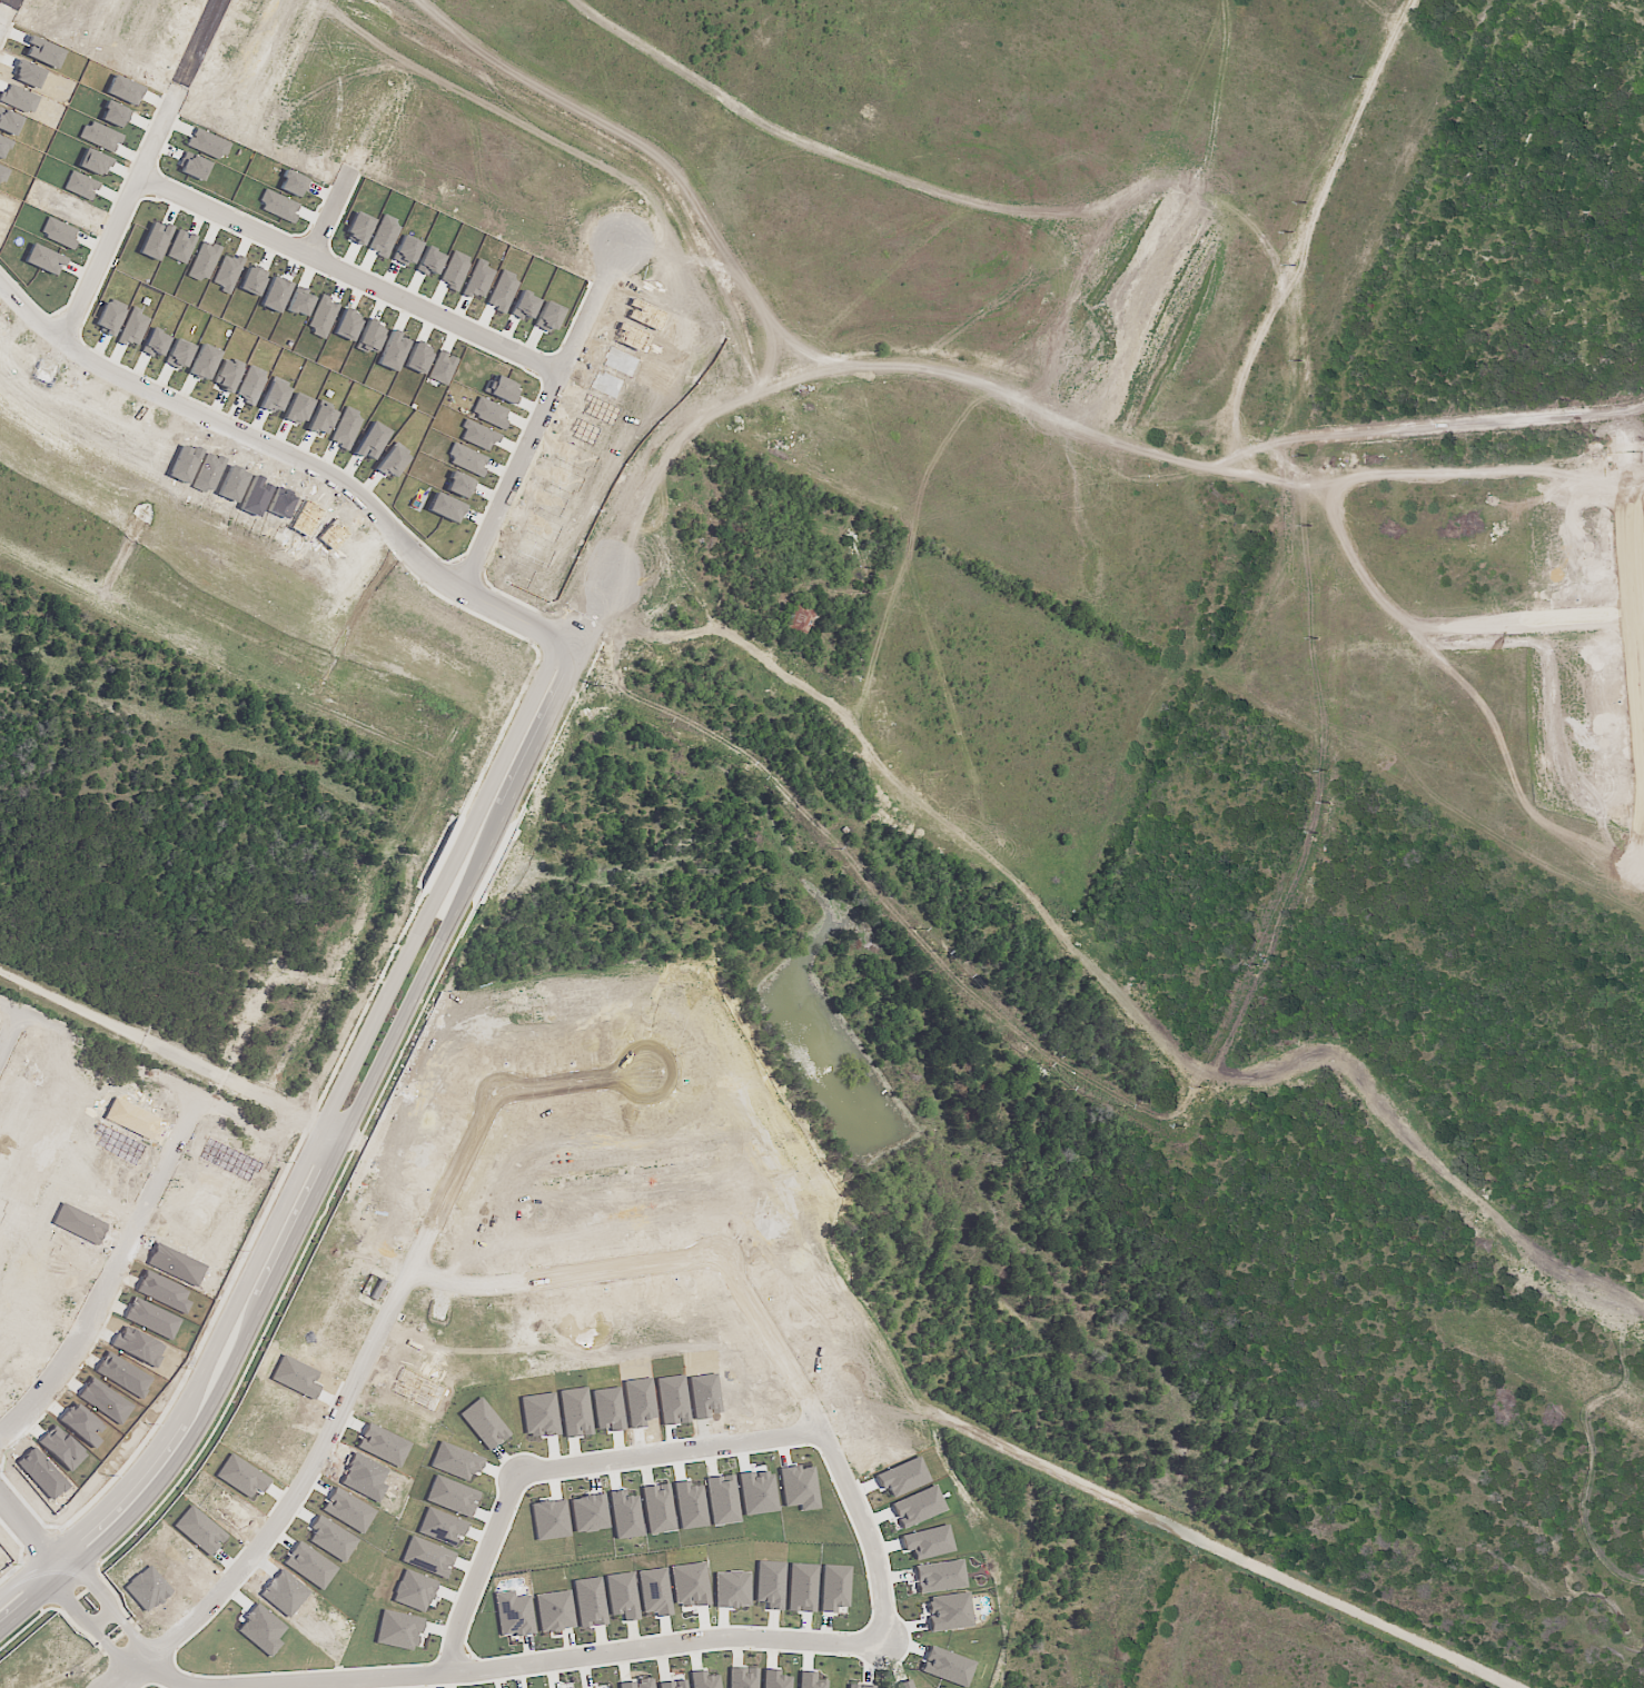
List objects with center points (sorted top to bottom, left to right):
road: (1, 4)
road: (626, 23)
road: (1116, 54)
road: (824, 61)
road: (676, 83)
road: (192, 91)
road: (372, 127)
road: (518, 143)
road: (1437, 171)
road: (1002, 209)
road: (1194, 209)
road: (115, 266)
road: (808, 268)
road: (778, 276)
road: (358, 279)
road: (604, 291)
road: (36, 312)
road: (1527, 346)
road: (770, 358)
road: (1624, 423)
road: (677, 450)
road: (1238, 465)
road: (345, 479)
road: (684, 479)
road: (516, 484)
road: (1236, 486)
road: (1536, 617)
building: (798, 619)
road: (960, 772)
road: (923, 801)
road: (1418, 850)
road: (130, 908)
road: (40, 972)
road: (1565, 1012)
road: (279, 1098)
road: (340, 1124)
road: (354, 1155)
road: (1470, 1211)
road: (139, 1218)
road: (580, 1281)
road: (388, 1346)
road: (838, 1447)
road: (681, 1453)
road: (29, 1522)
building: (939, 1576)
road: (494, 1578)
building: (654, 1592)
building: (622, 1596)
building: (590, 1602)
road: (115, 1605)
building: (554, 1611)
building: (514, 1613)
road: (95, 1620)
road: (611, 1659)
building: (742, 1677)
road: (177, 1678)
building: (774, 1679)
building: (636, 1684)
building: (672, 1685)
building: (903, 1685)
building: (859, 1686)

